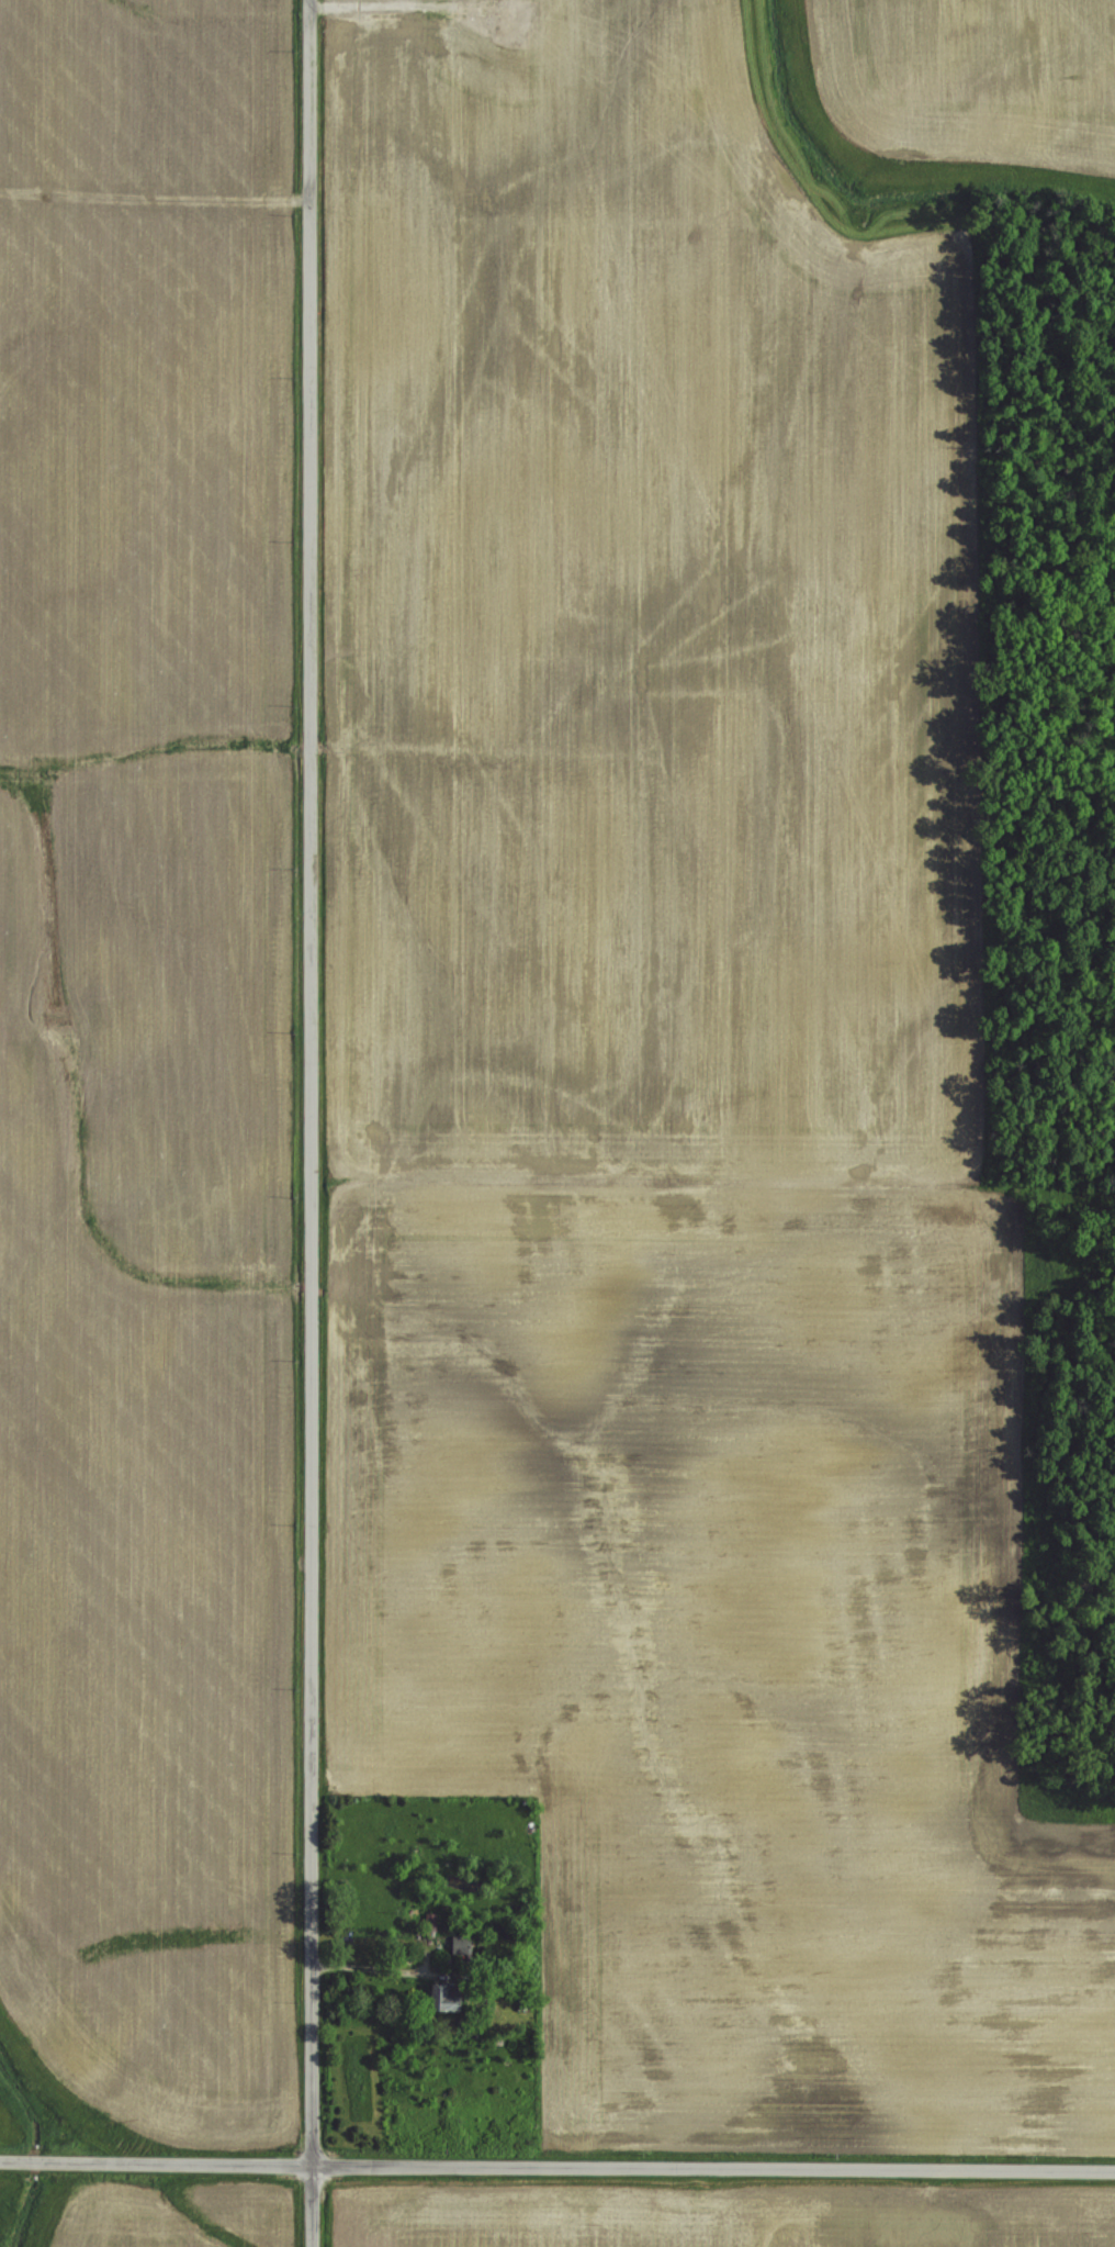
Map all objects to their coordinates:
road: (307, 1123)
building: (444, 1994)
road: (556, 2158)

